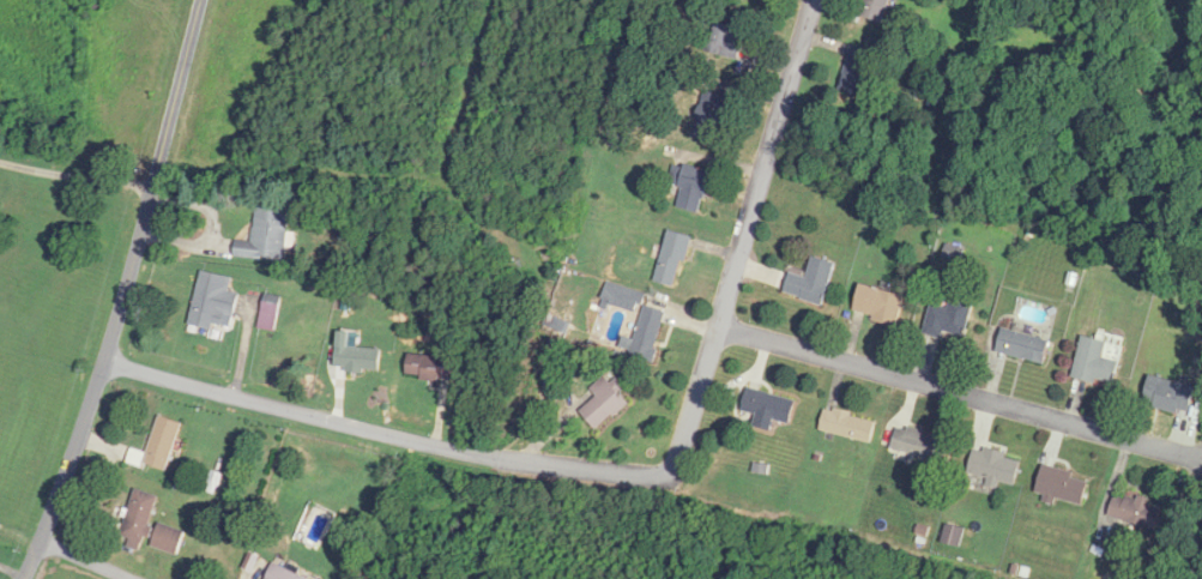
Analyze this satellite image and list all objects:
building: (876, 8)
building: (725, 40)
building: (856, 70)
building: (709, 116)
road: (77, 174)
building: (693, 187)
road: (747, 227)
building: (267, 233)
building: (672, 258)
building: (813, 281)
road: (123, 292)
building: (623, 296)
building: (213, 300)
building: (880, 302)
building: (270, 310)
building: (949, 318)
building: (645, 333)
building: (1022, 345)
building: (355, 354)
building: (1098, 361)
building: (428, 367)
road: (960, 392)
building: (1168, 394)
building: (605, 403)
building: (767, 408)
building: (847, 424)
road: (394, 438)
building: (919, 445)
building: (159, 446)
building: (995, 466)
building: (1062, 484)
building: (1135, 509)
building: (139, 518)
building: (168, 538)
road: (85, 559)
building: (283, 573)

